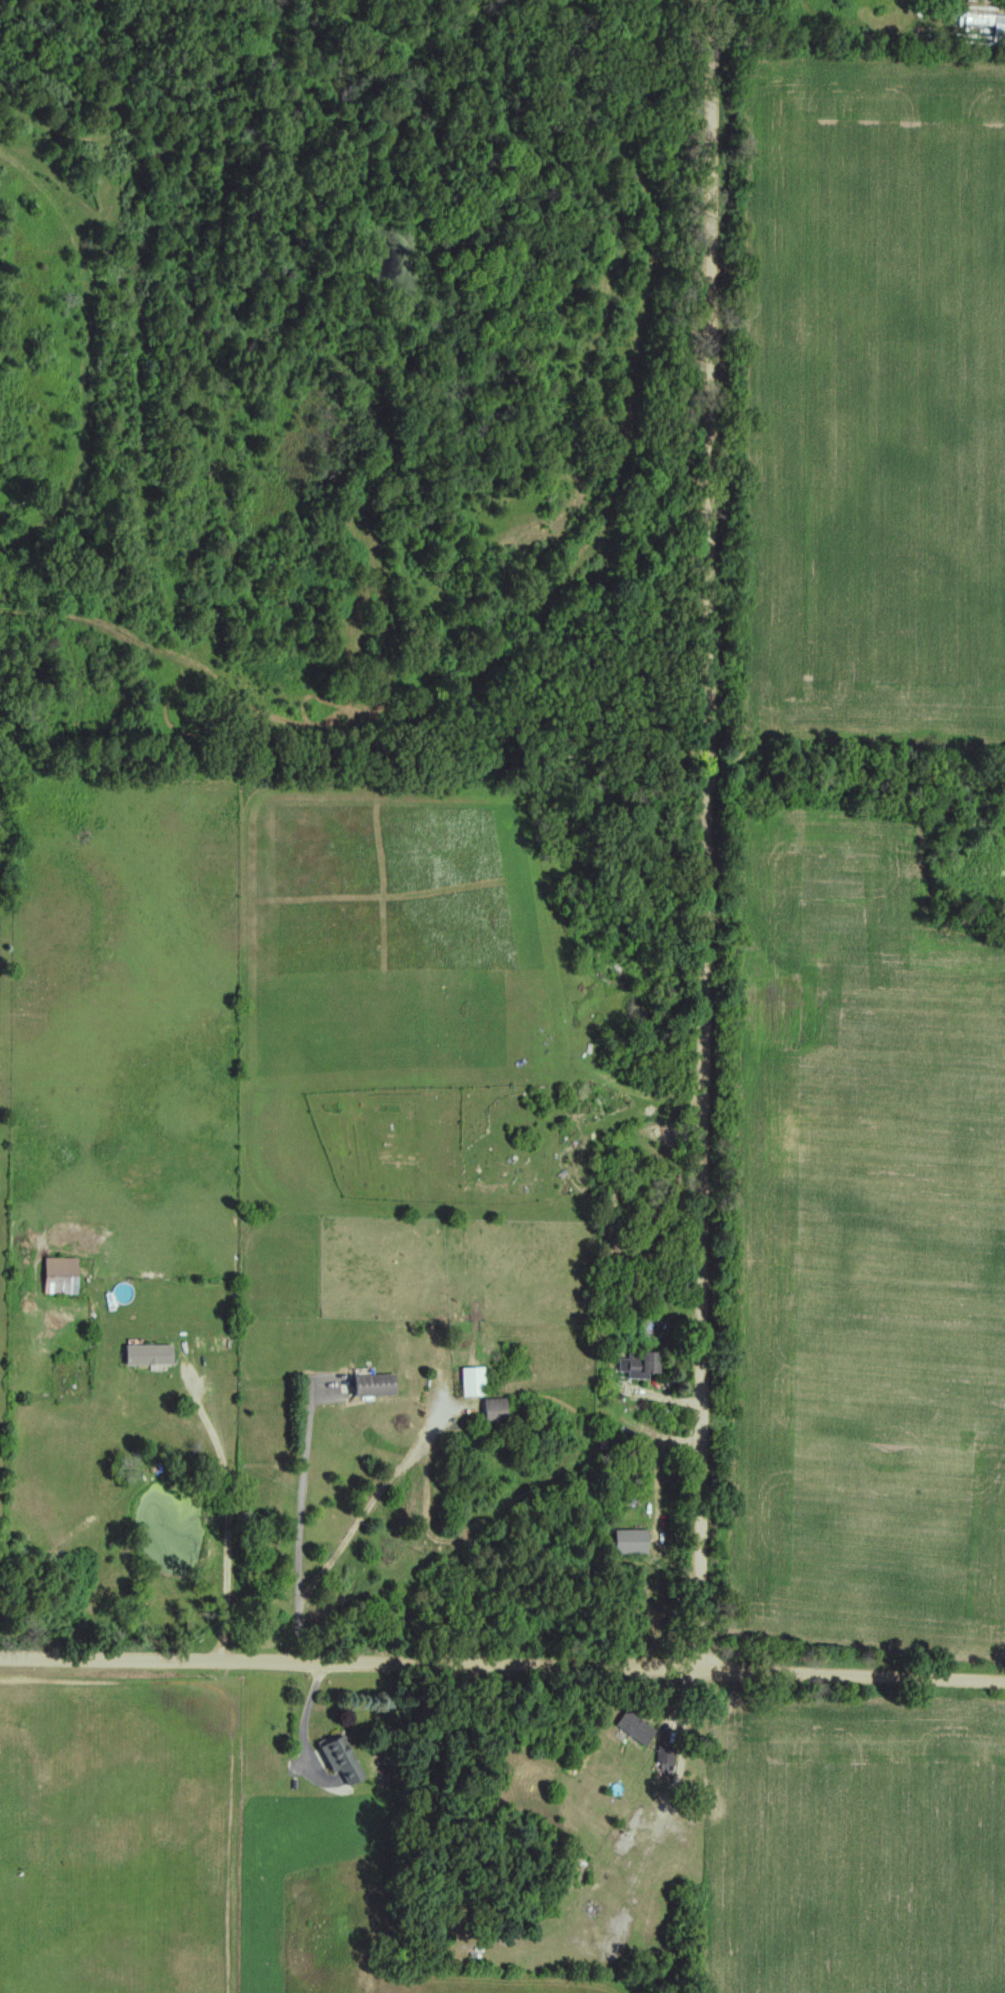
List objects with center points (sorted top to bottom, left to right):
road: (704, 833)
building: (56, 1274)
building: (198, 1341)
building: (140, 1354)
building: (628, 1364)
building: (467, 1381)
building: (368, 1385)
building: (489, 1410)
road: (365, 1516)
road: (220, 1523)
road: (302, 1525)
building: (622, 1541)
road: (502, 1664)
road: (305, 1722)
building: (630, 1728)
building: (333, 1755)
building: (574, 1872)

